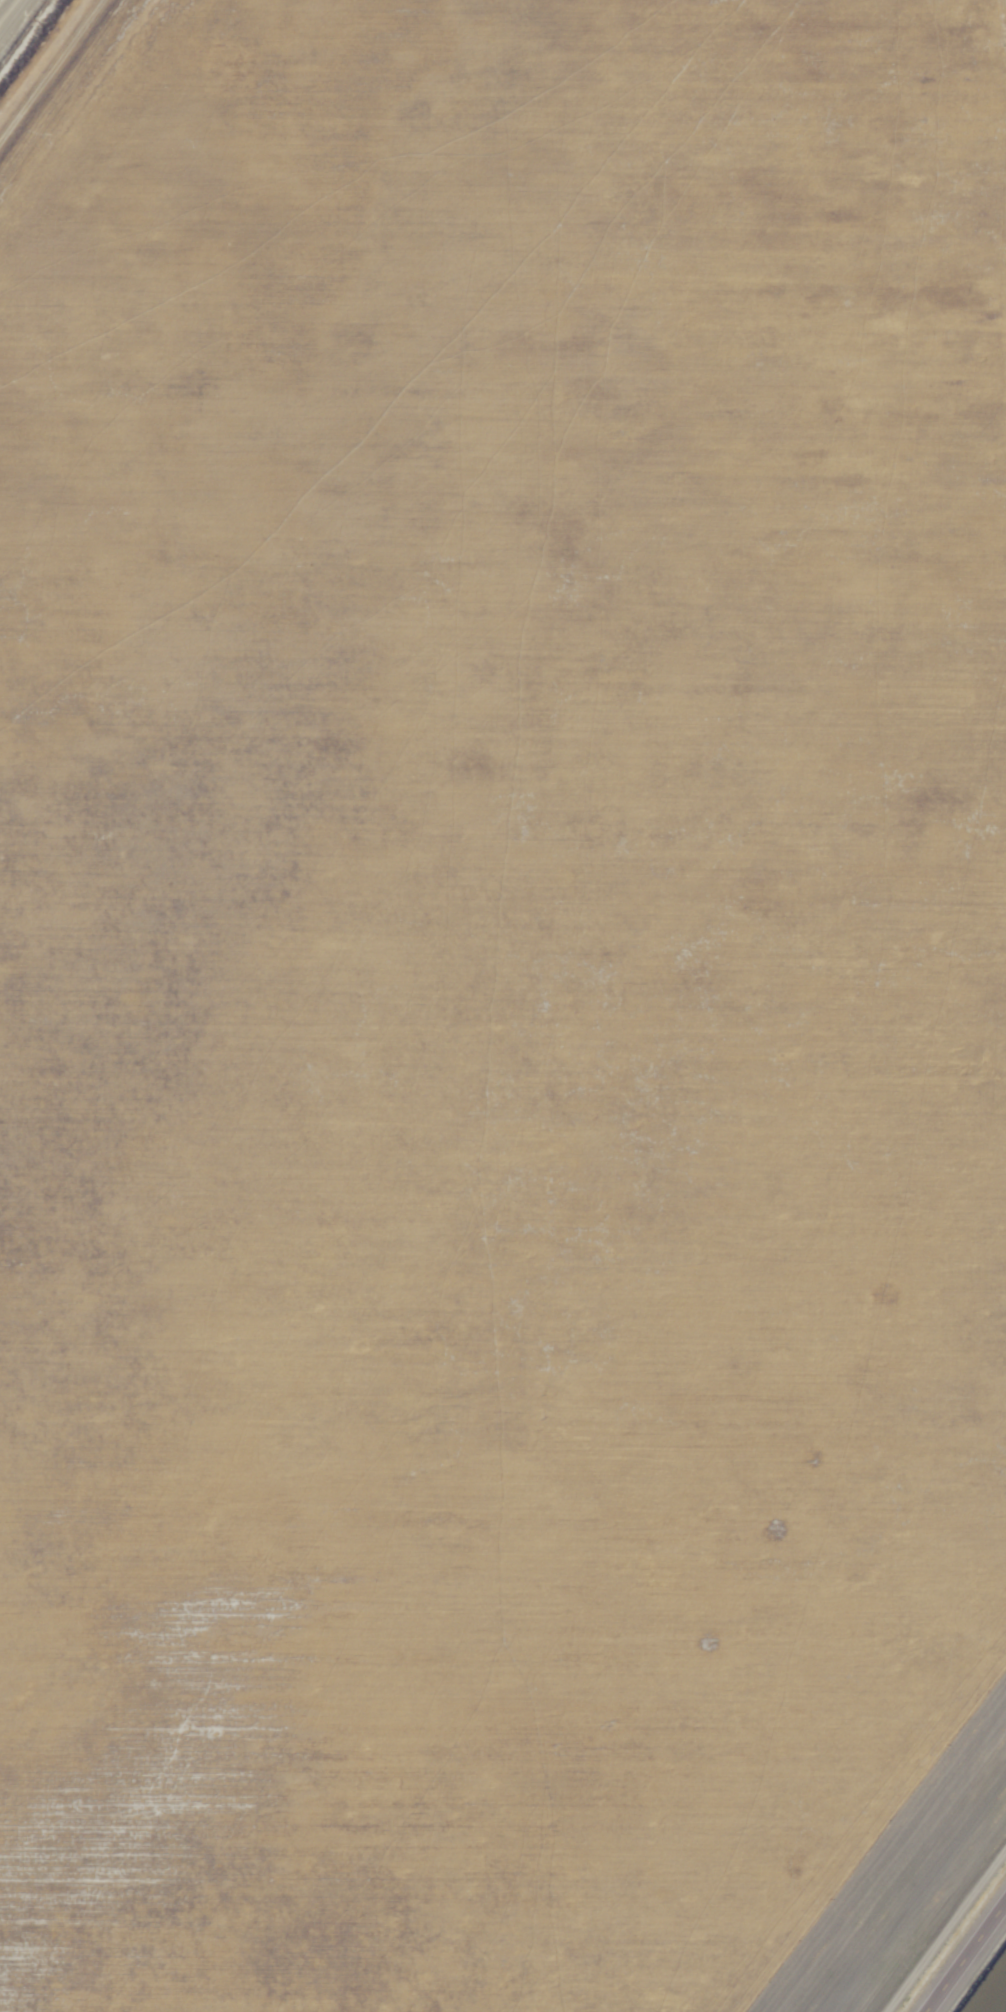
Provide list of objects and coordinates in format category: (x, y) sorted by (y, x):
crop: (968, 1957)
road: (971, 1965)

